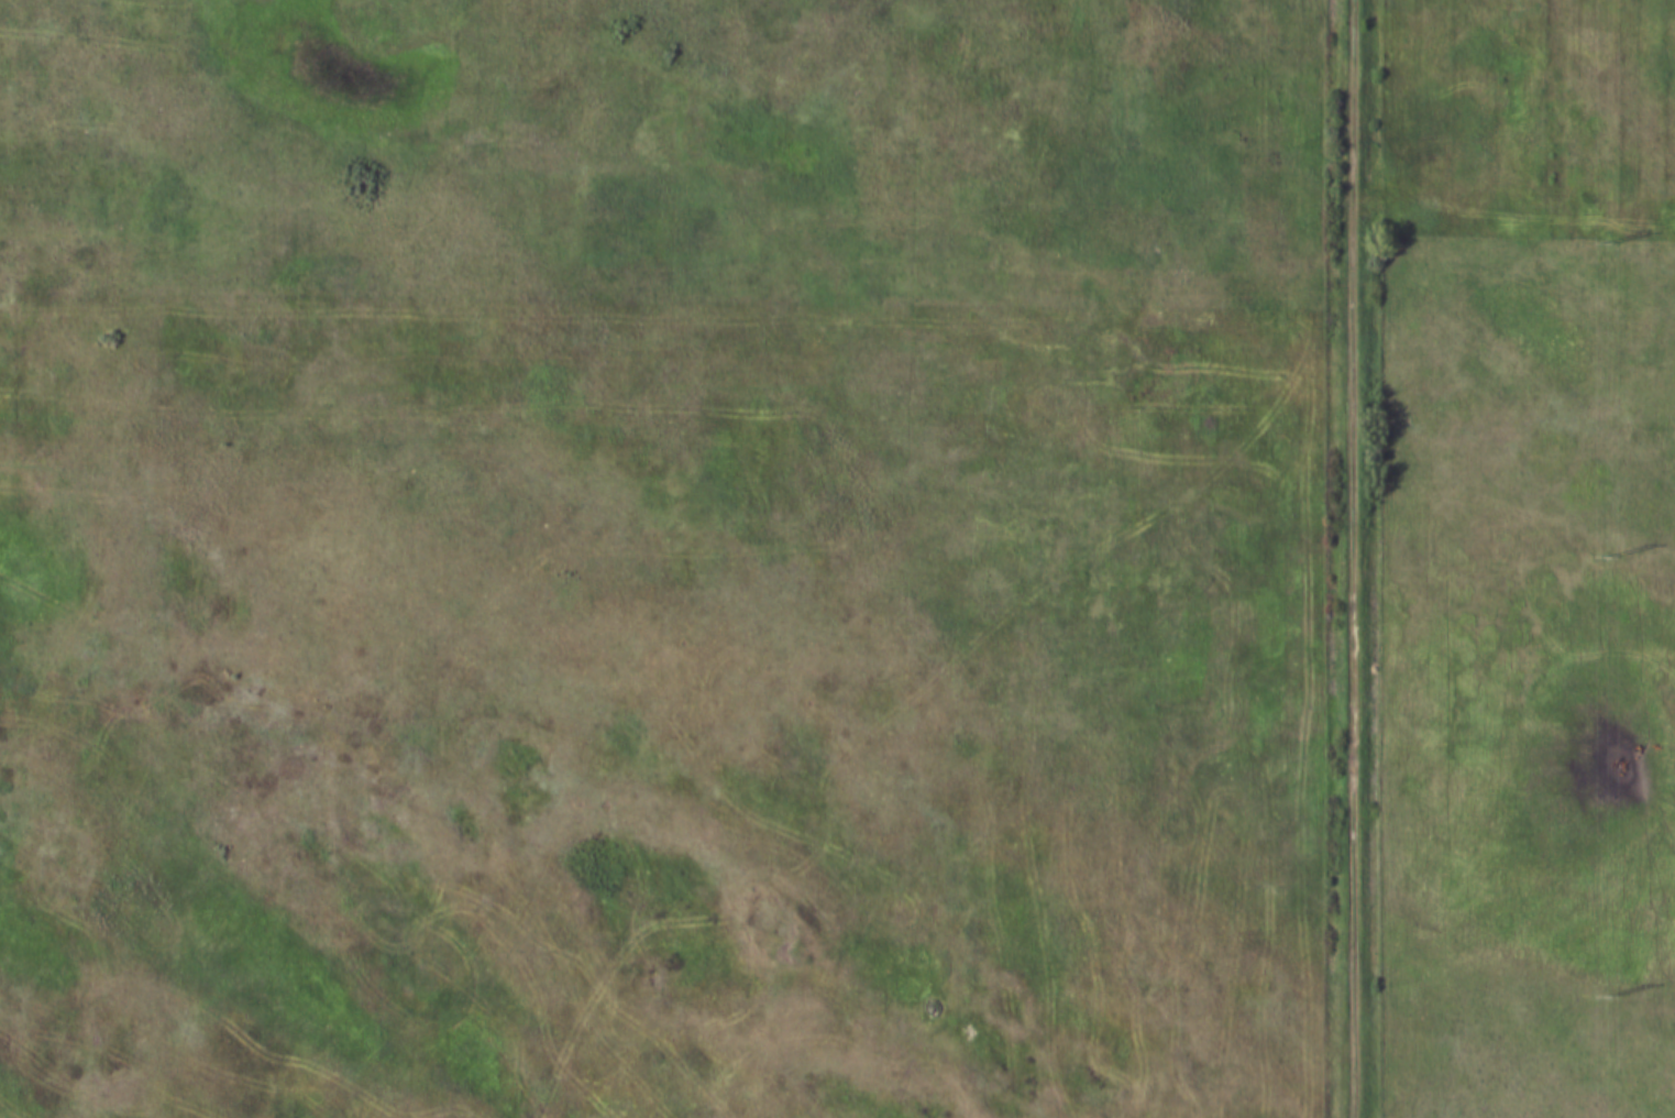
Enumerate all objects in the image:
power tower: (1608, 242)
power tower: (1609, 556)
road: (1356, 559)
power tower: (1609, 997)

